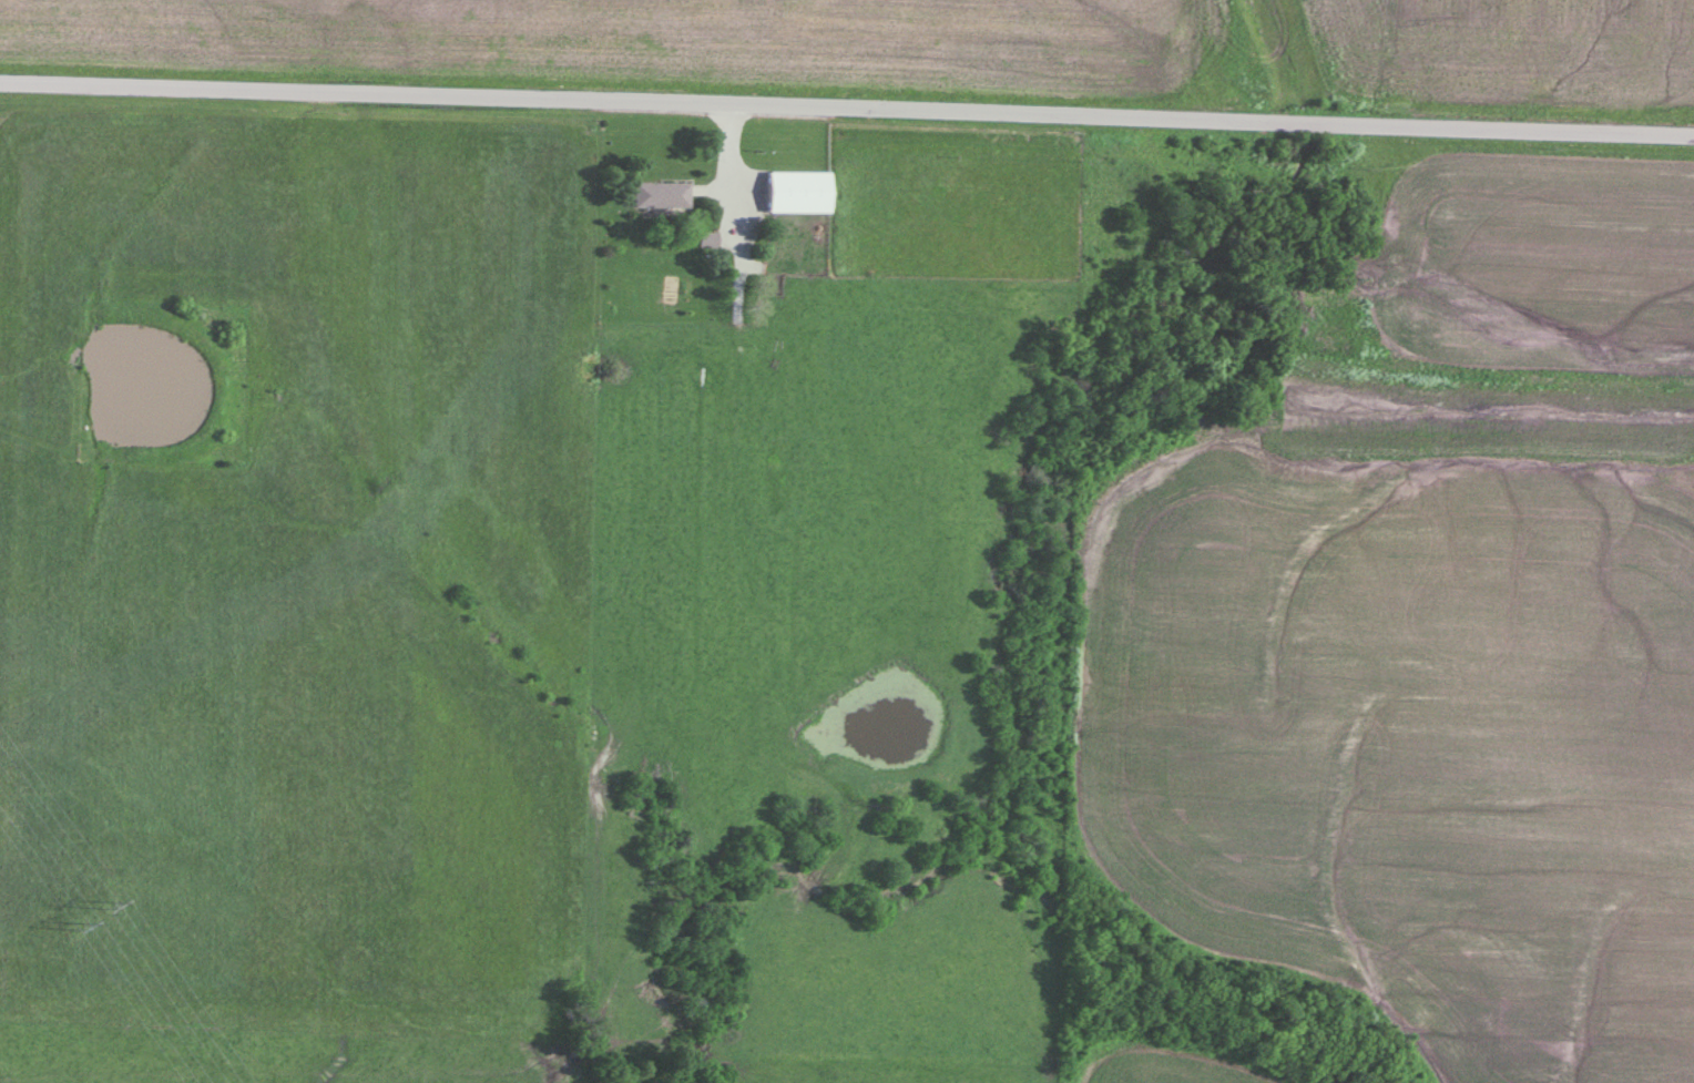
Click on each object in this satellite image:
road: (846, 115)
building: (797, 192)
building: (660, 195)
road: (729, 206)
building: (706, 238)
power tower: (108, 899)
power tower: (70, 926)

